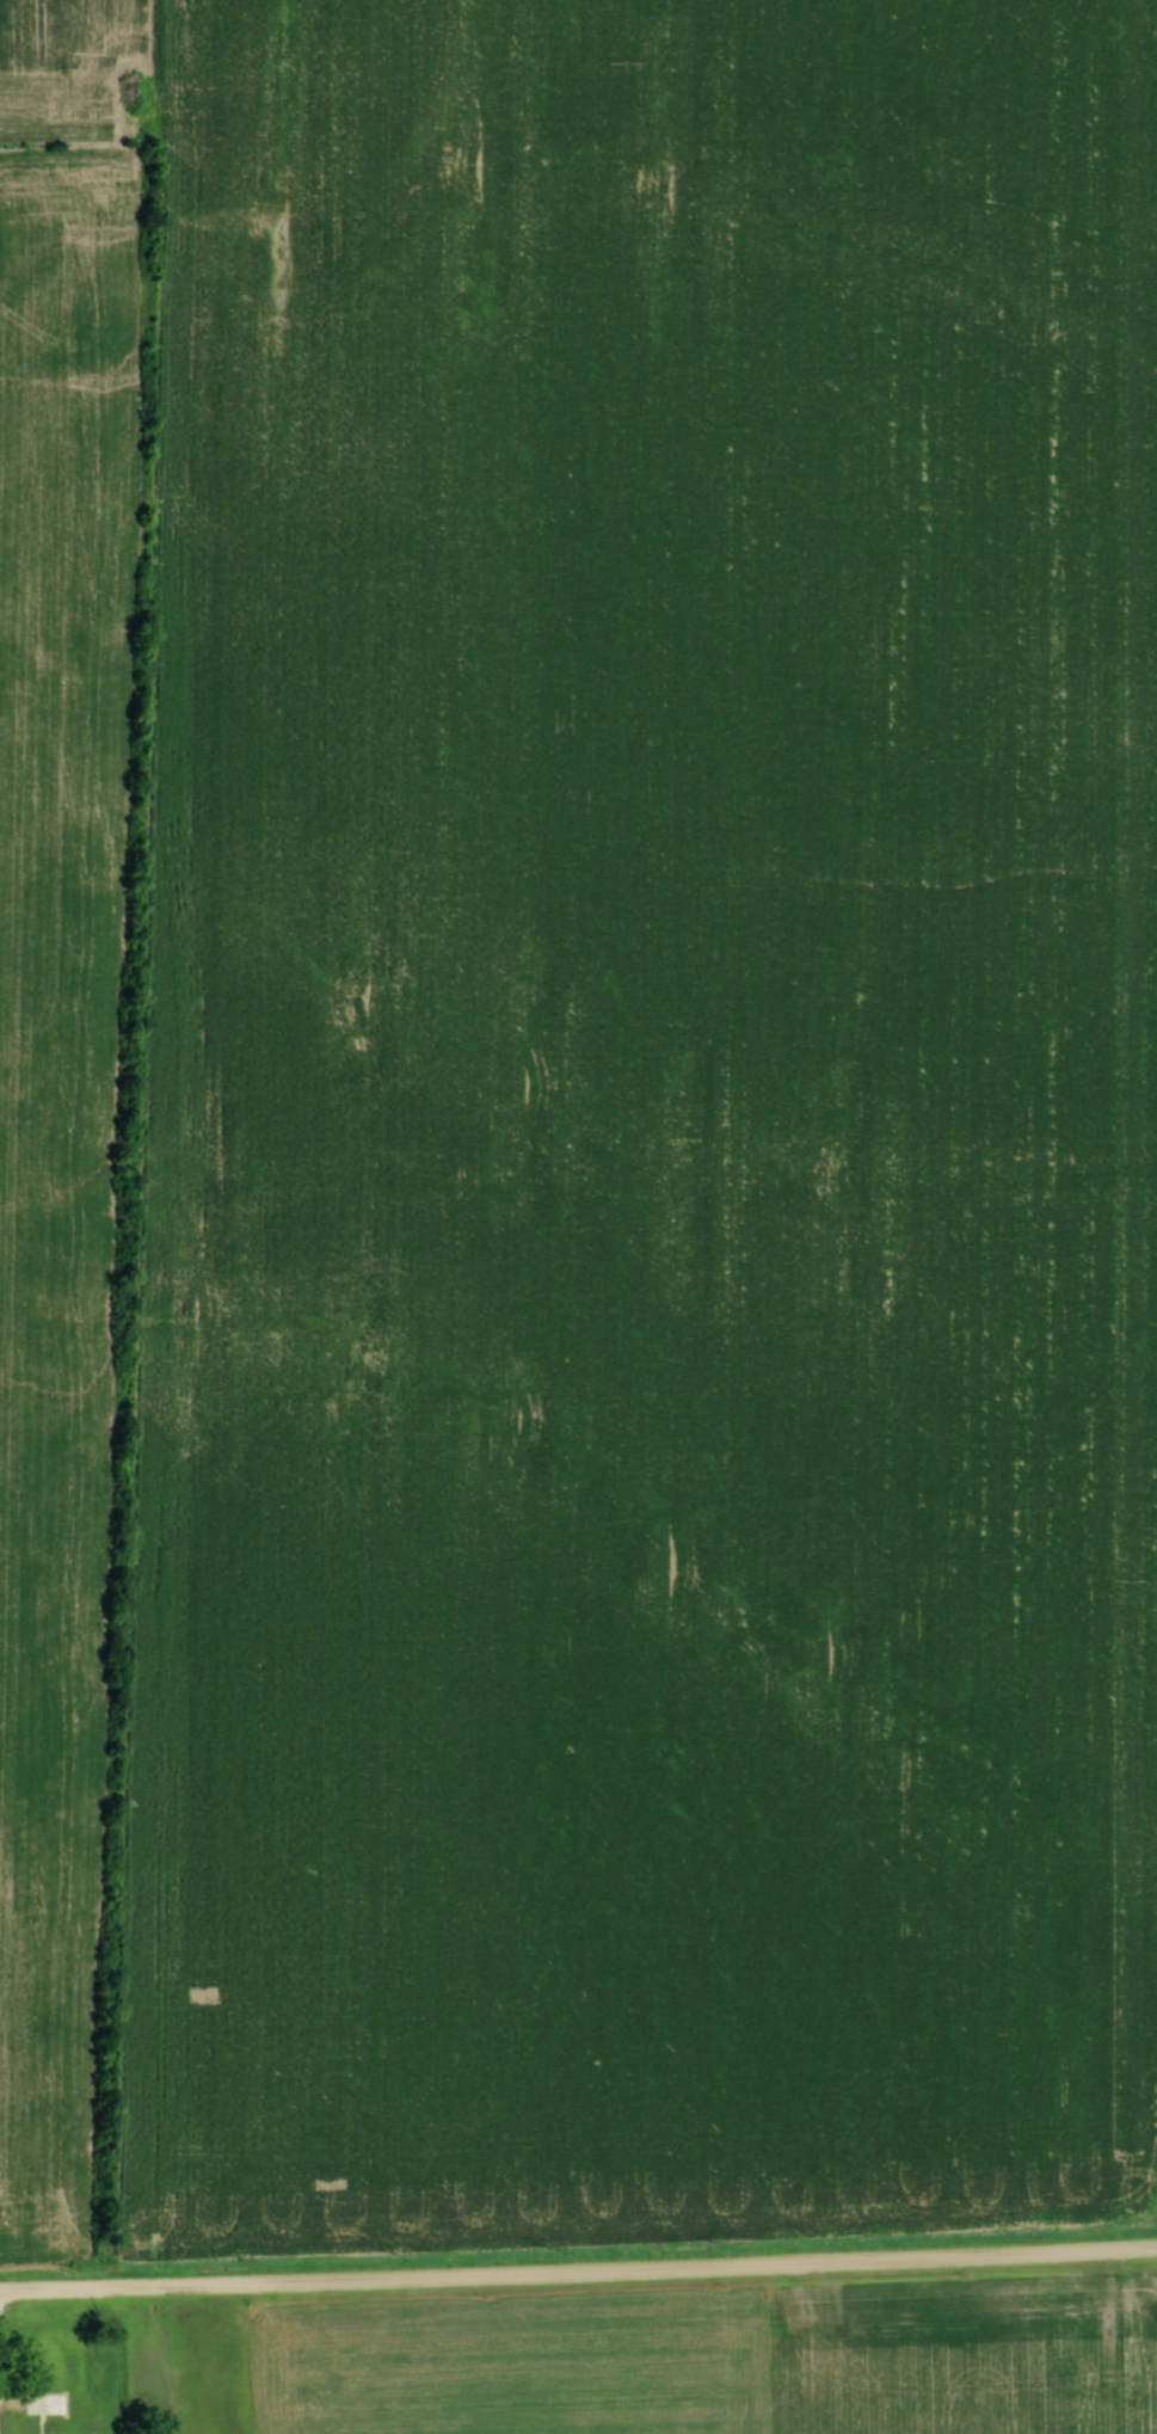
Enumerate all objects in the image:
road: (578, 2273)
road: (1, 2316)
building: (51, 2384)
road: (18, 2398)

